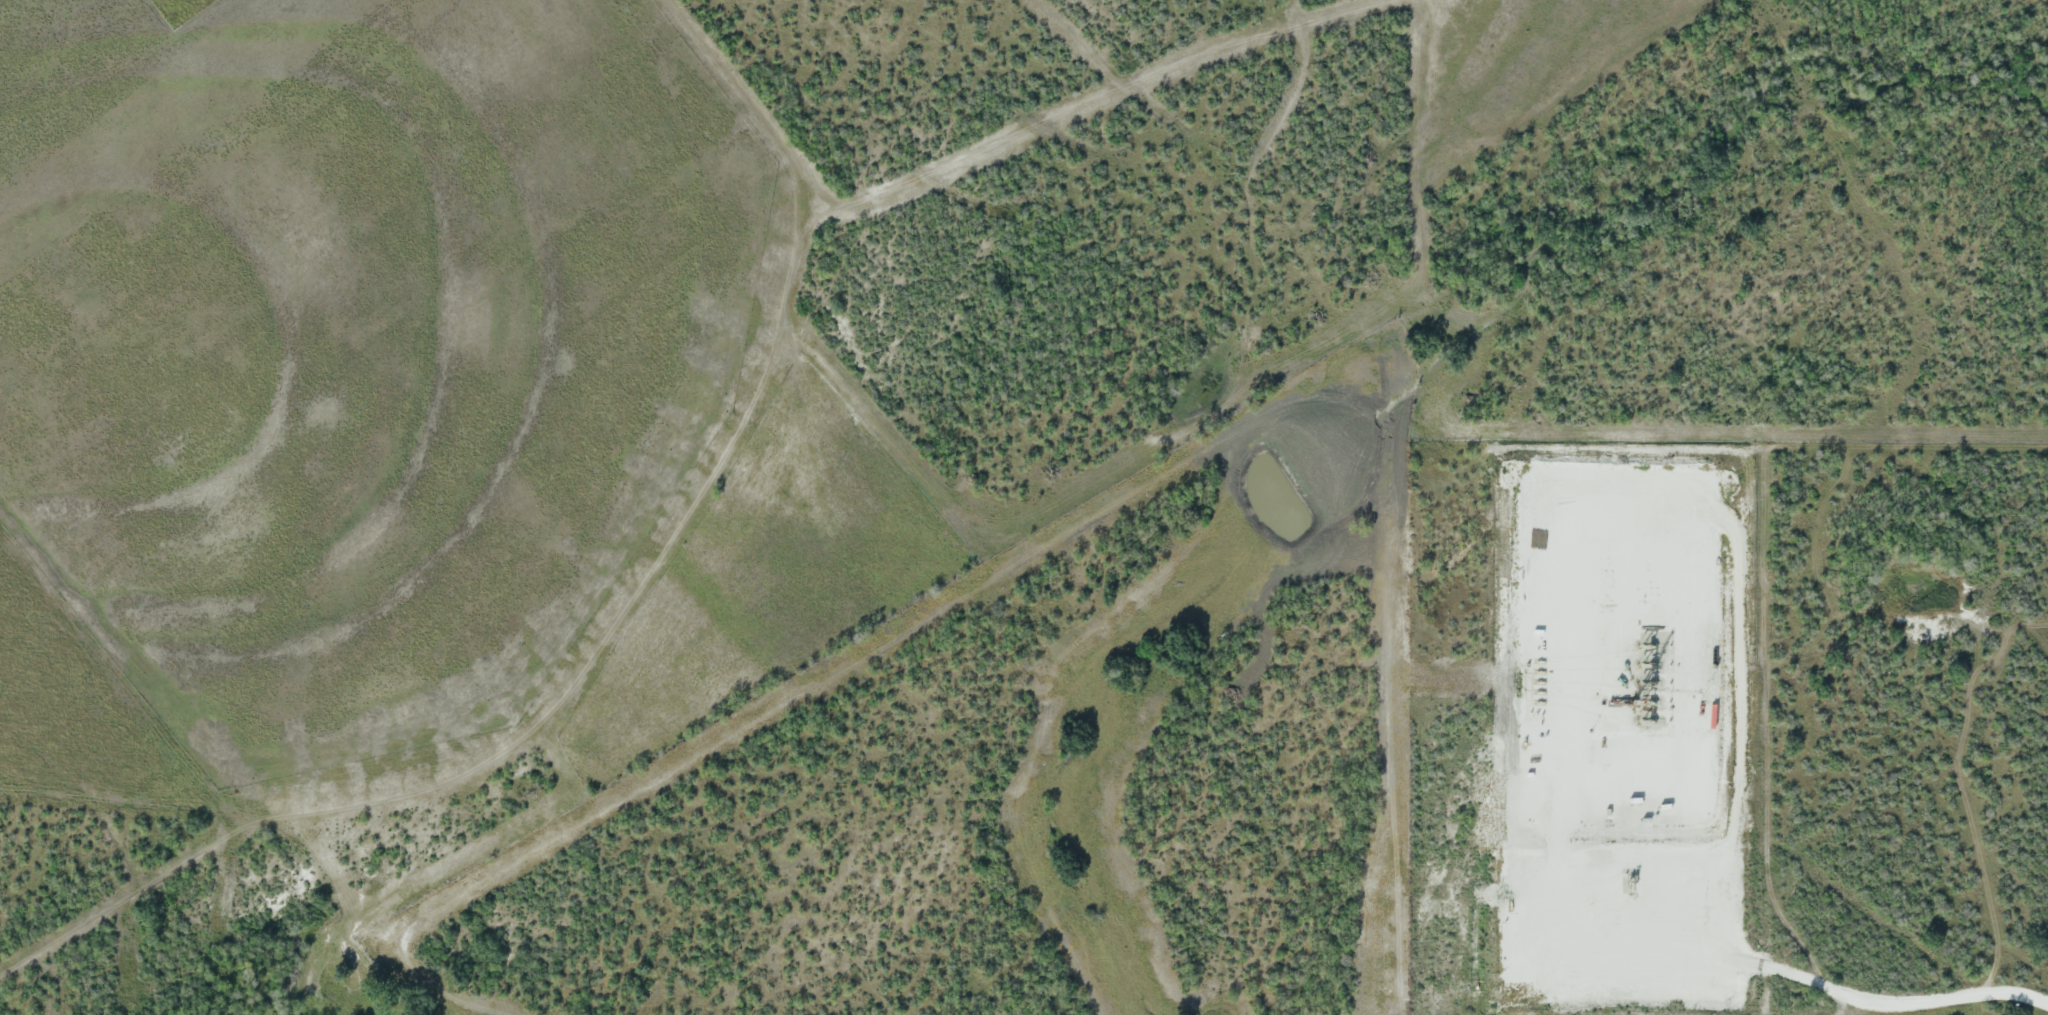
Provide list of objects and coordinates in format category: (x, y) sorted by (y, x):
river: (1430, 377)
road: (1780, 969)
river: (363, 1013)

